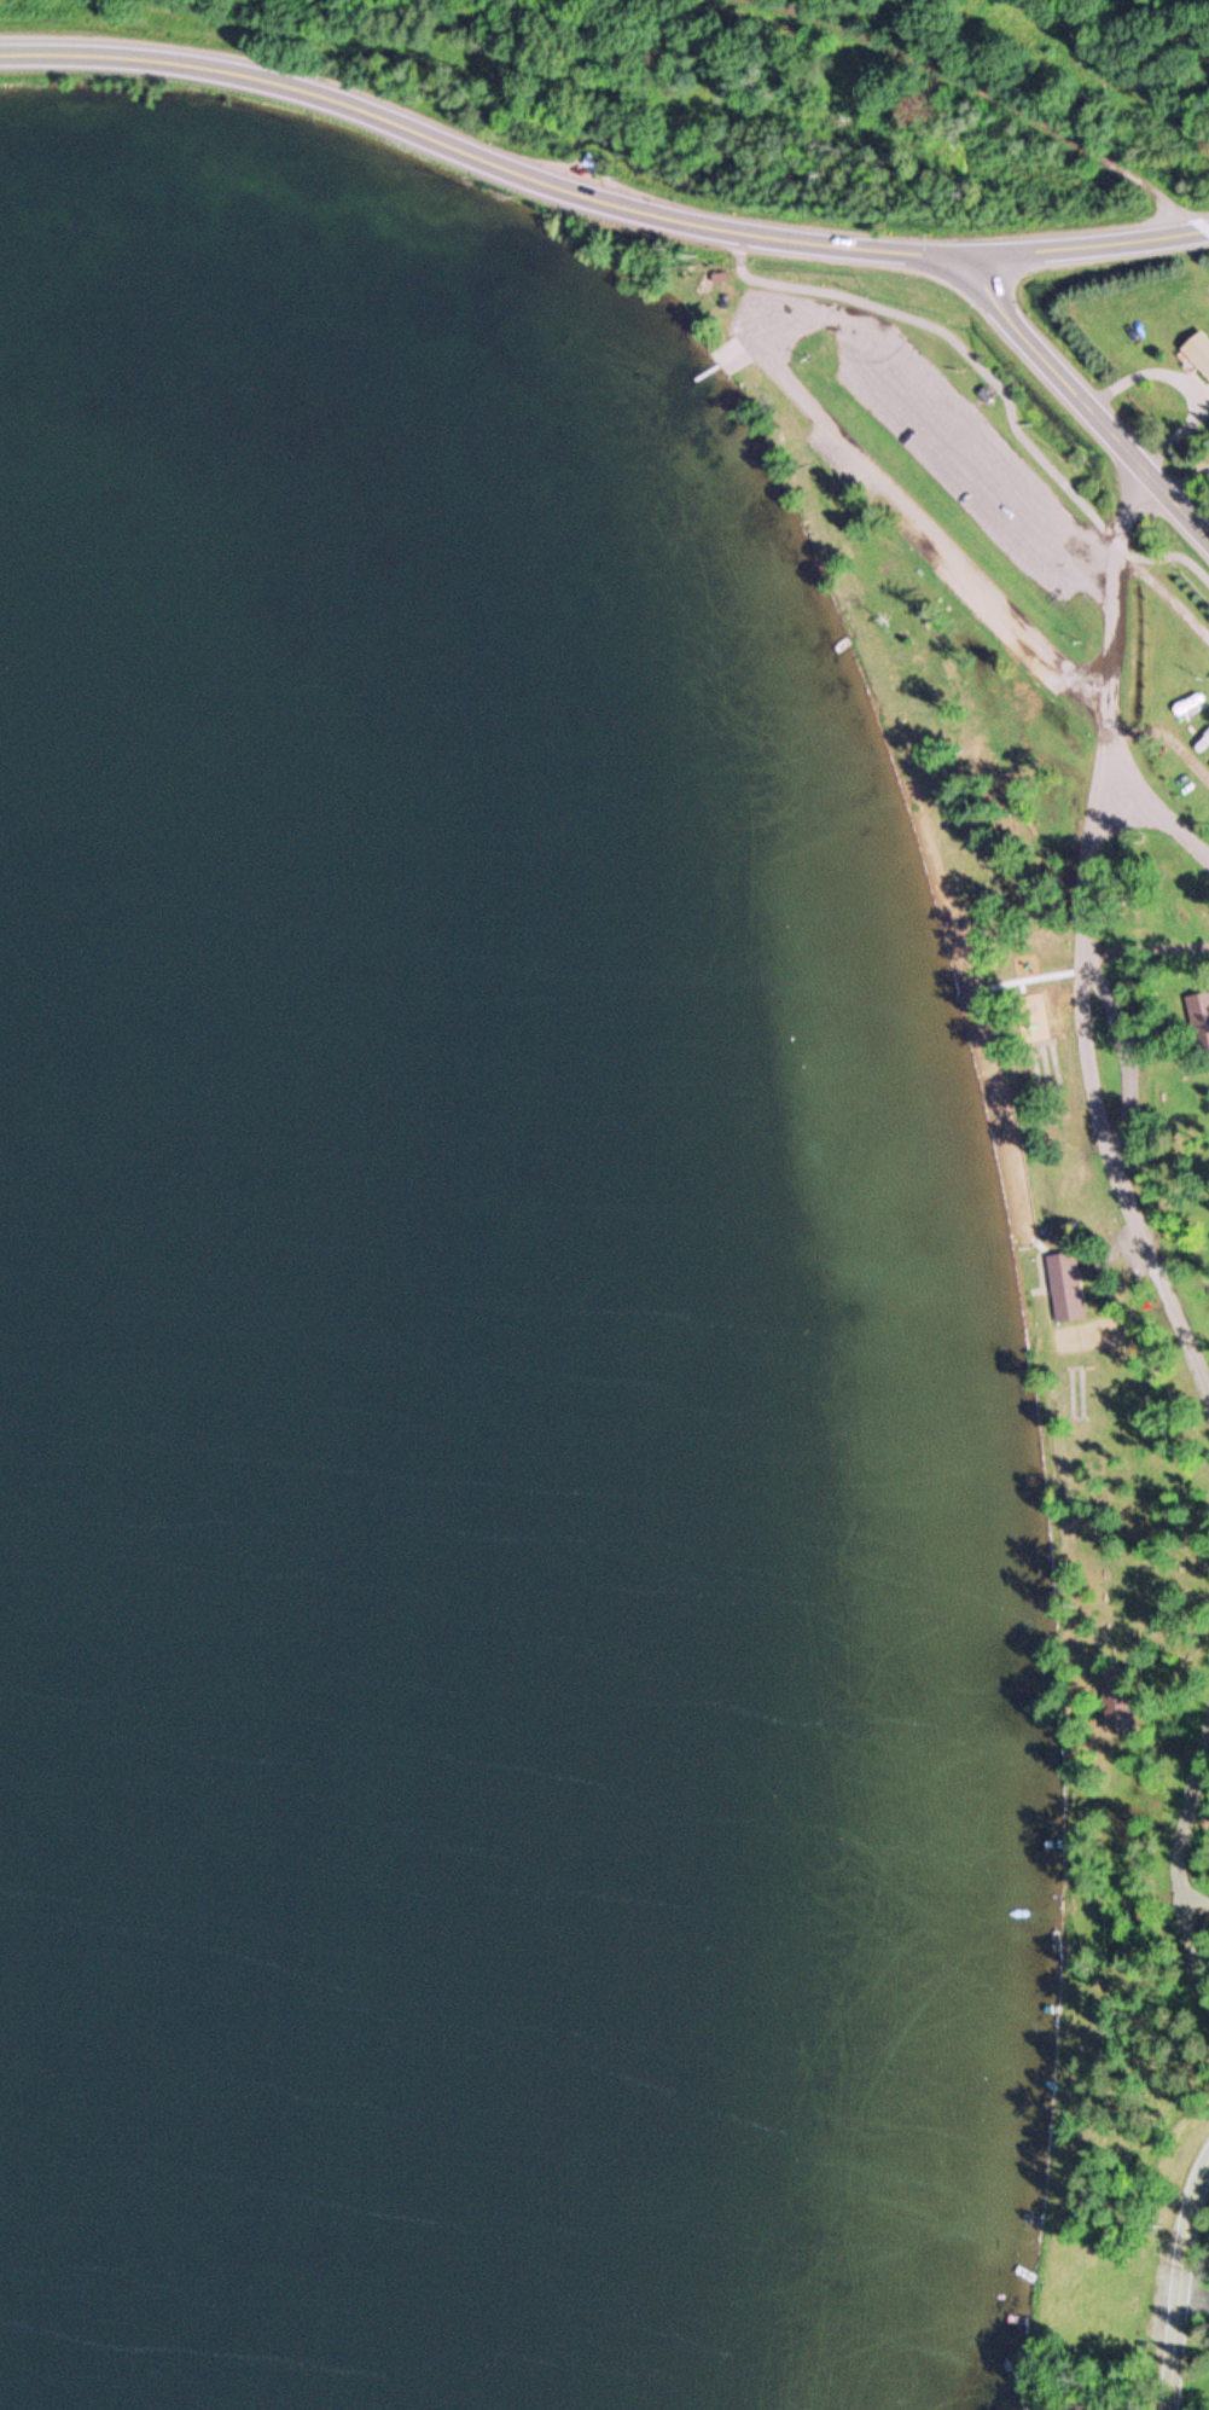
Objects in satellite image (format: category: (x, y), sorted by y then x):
road: (376, 114)
road: (1083, 243)
road: (849, 245)
road: (762, 343)
road: (732, 349)
building: (1196, 350)
road: (992, 381)
road: (1080, 403)
parking lot: (969, 463)
road: (1108, 696)
building: (1197, 1009)
road: (1094, 1102)
park: (1047, 1105)
building: (1064, 1284)
building: (1117, 1696)
road: (1180, 1865)
road: (1193, 1901)
road: (1178, 2282)

